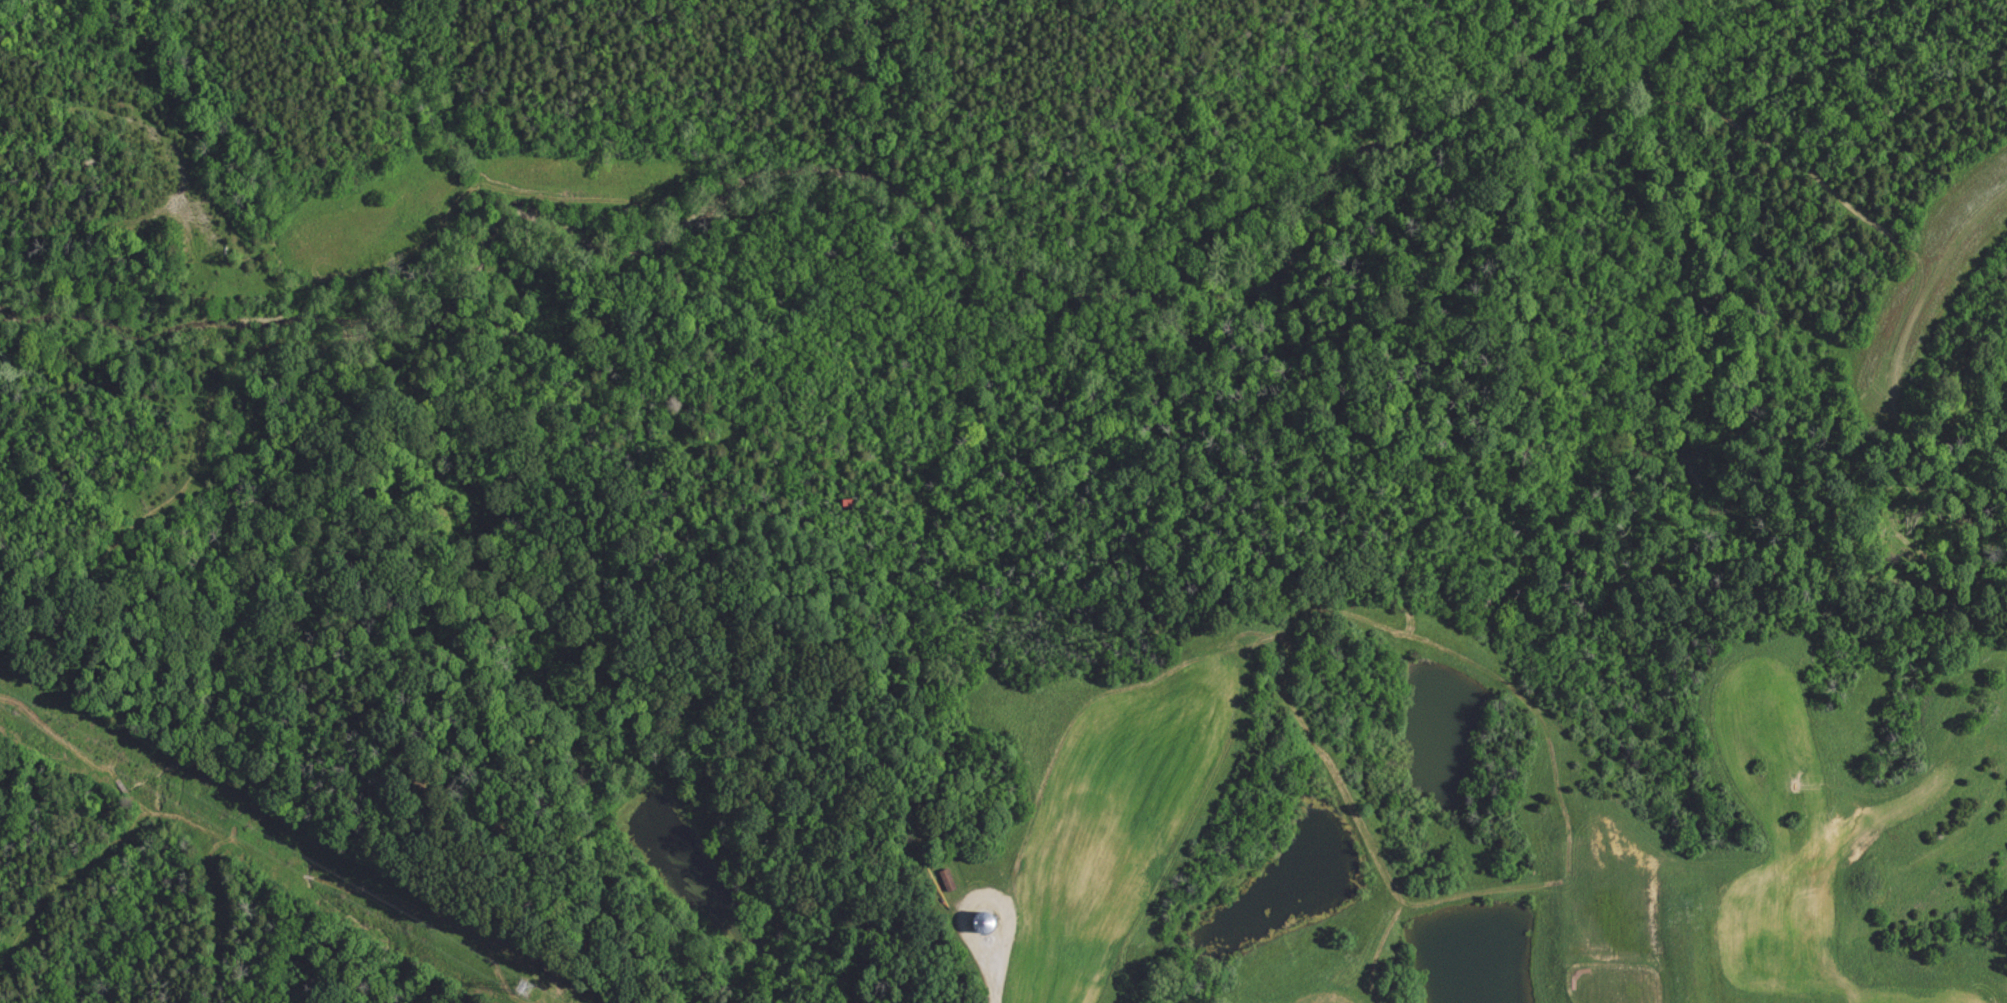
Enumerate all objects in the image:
road: (984, 895)
power tower: (537, 983)
road: (997, 999)

